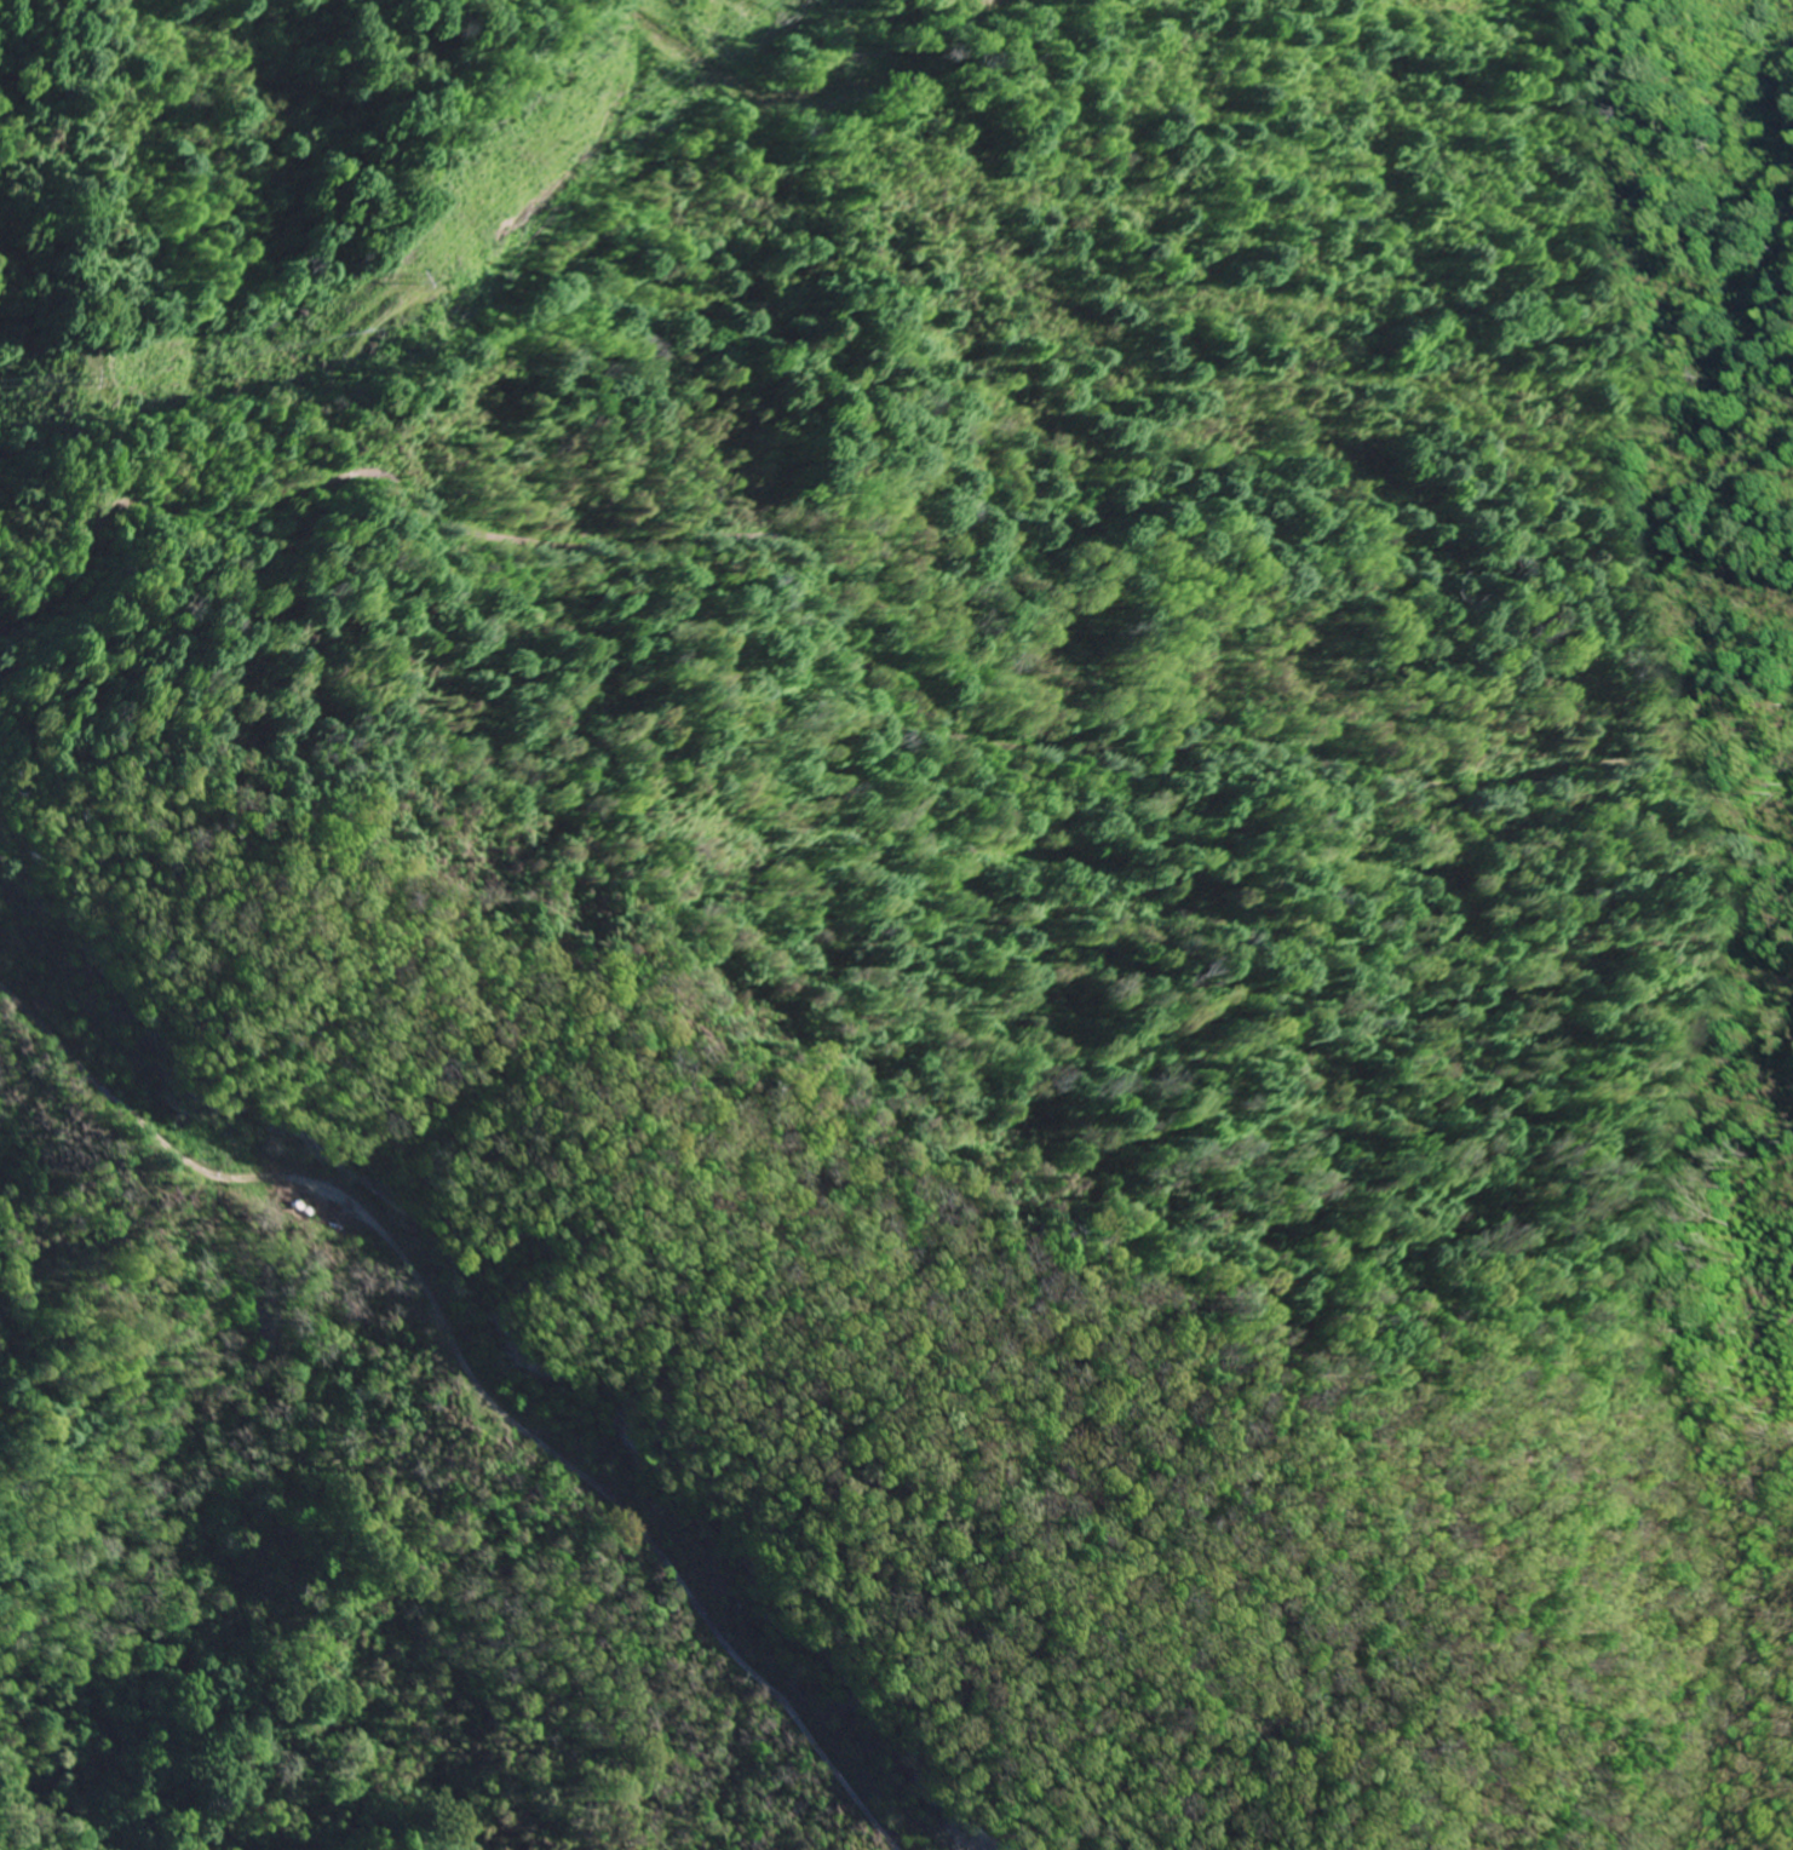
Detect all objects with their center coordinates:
building: (603, 598)
building: (57, 649)

